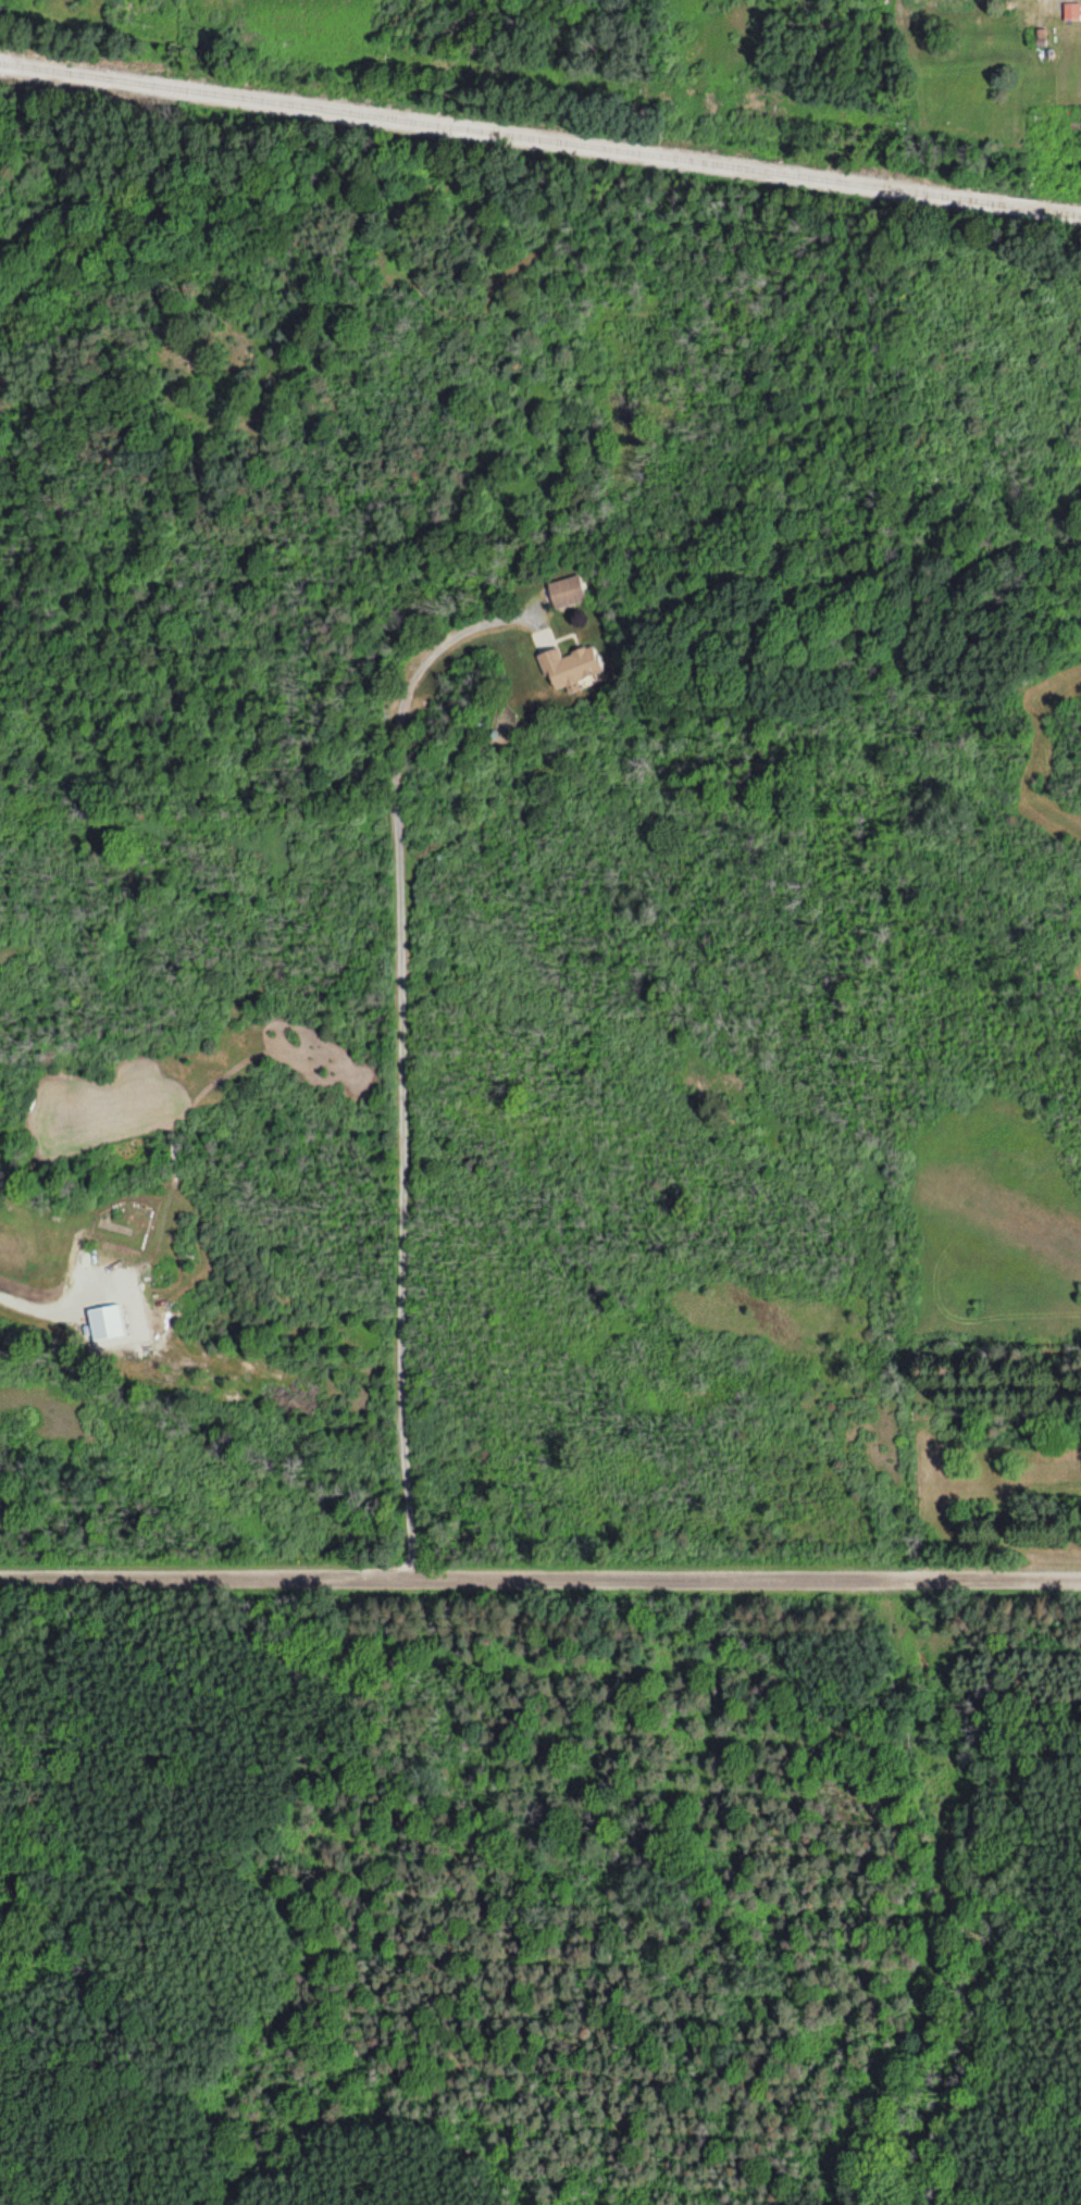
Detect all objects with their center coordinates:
building: (1071, 10)
railway: (540, 133)
building: (566, 590)
building: (568, 664)
road: (540, 1578)

